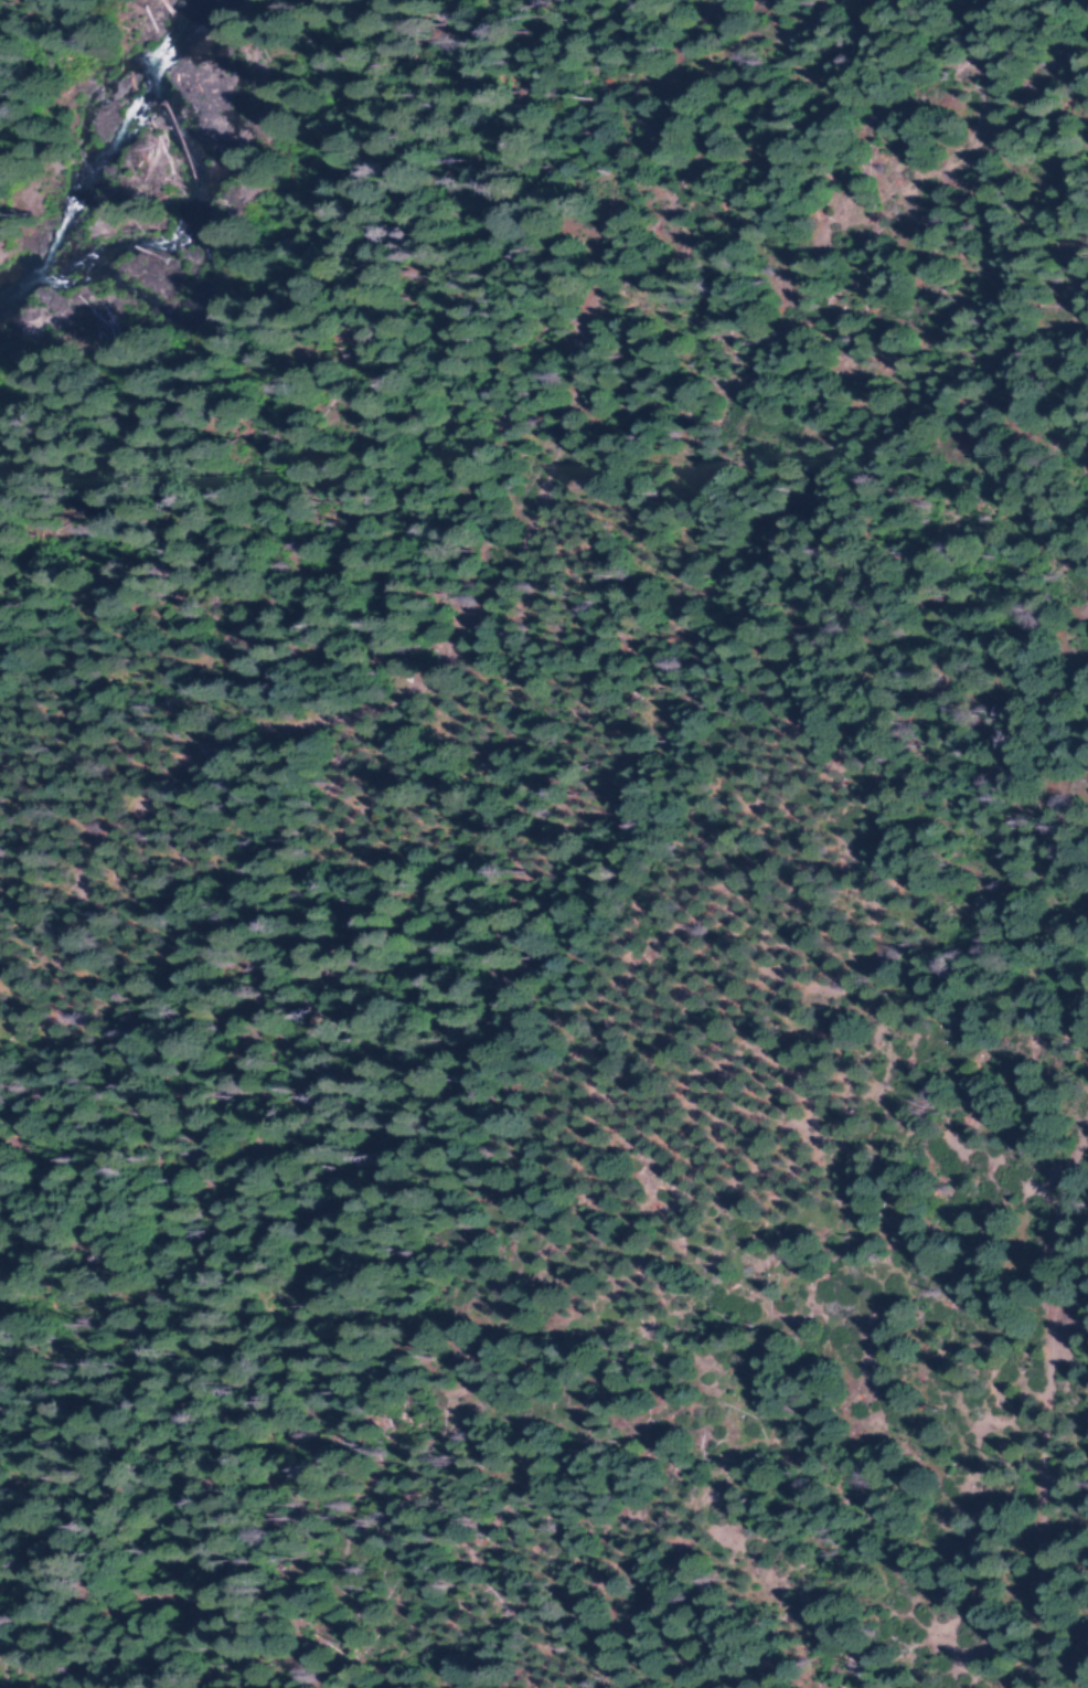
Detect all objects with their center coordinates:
river: (107, 148)
road: (250, 288)
road: (434, 657)
road: (1047, 1365)

